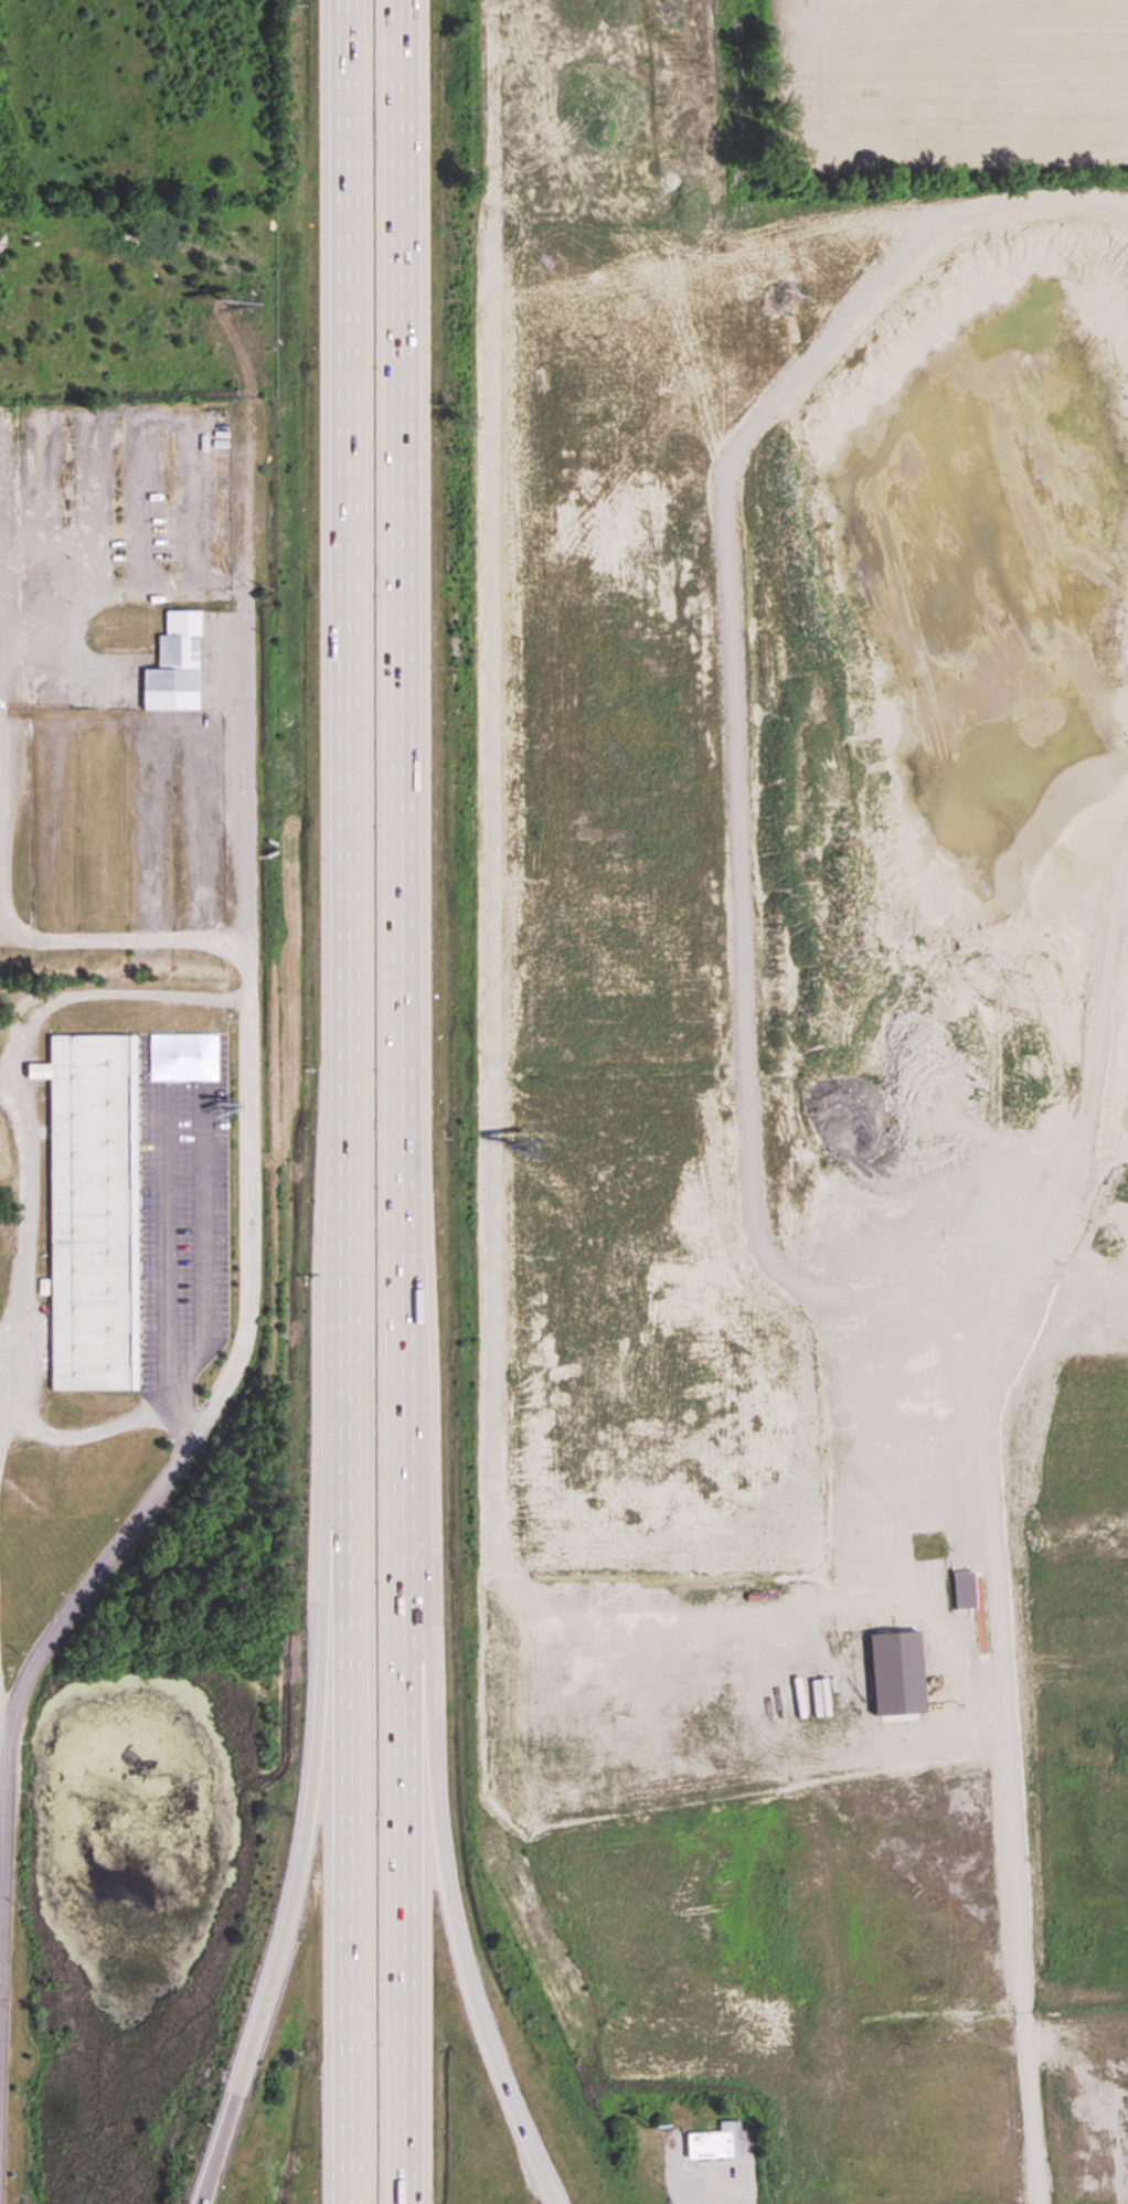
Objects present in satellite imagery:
building: (174, 666)
road: (344, 1101)
road: (406, 1101)
building: (92, 1213)
road: (252, 1241)
road: (162, 1246)
building: (499, 1594)
road: (277, 1953)
road: (478, 2037)
building: (713, 2144)

